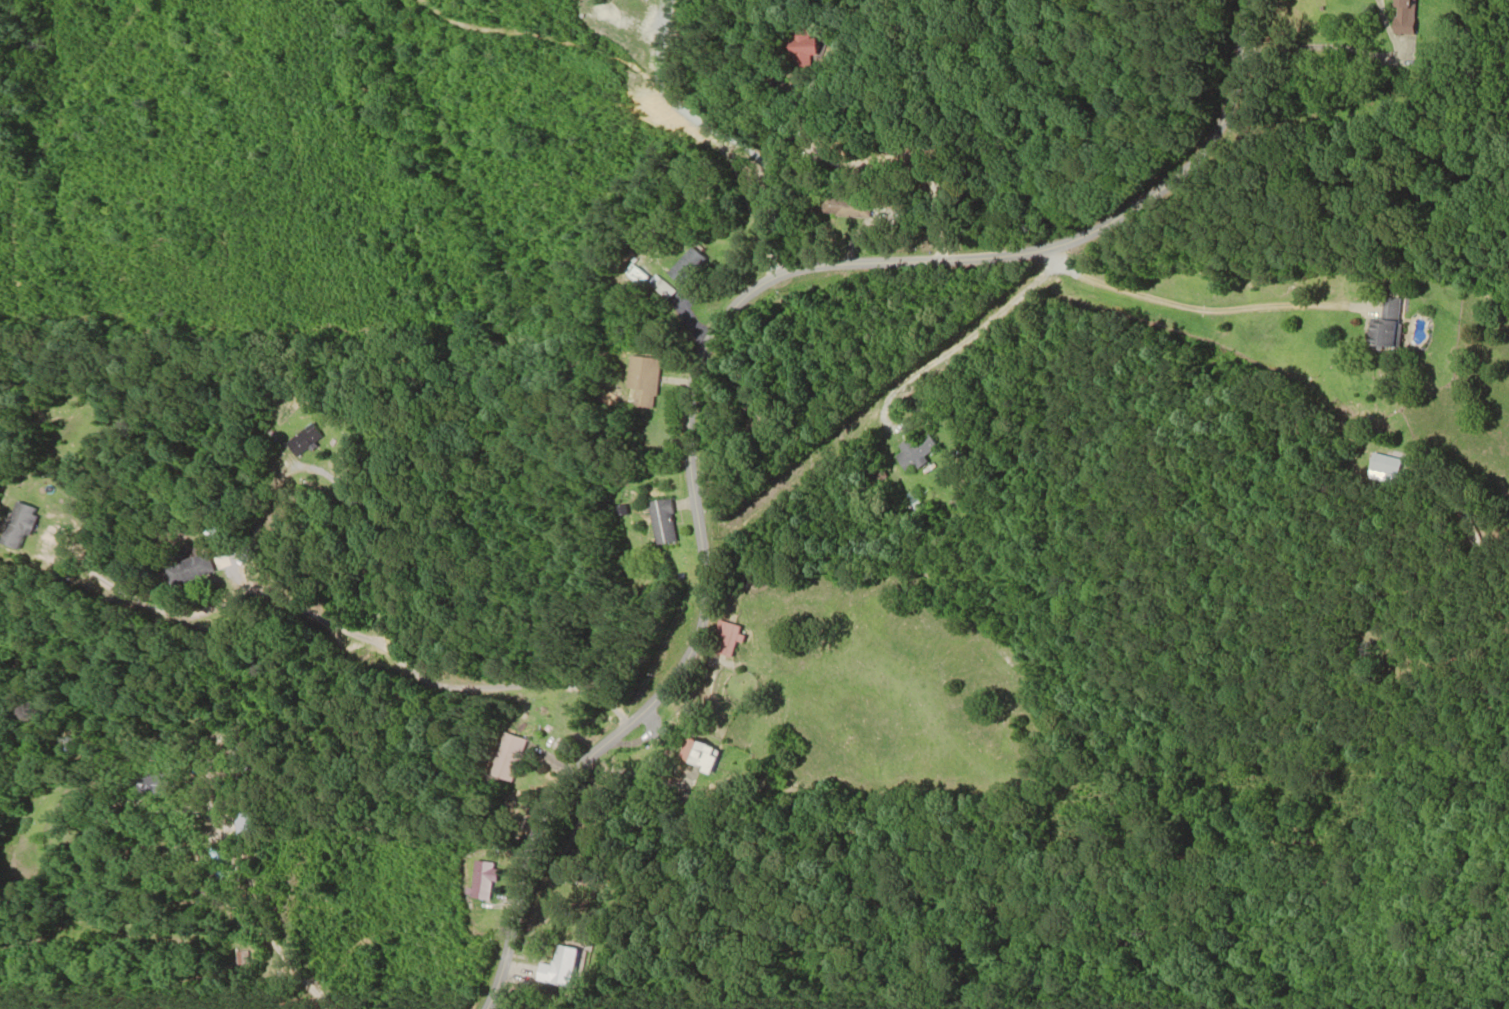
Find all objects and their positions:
building: (1414, 13)
building: (805, 46)
building: (691, 264)
building: (1395, 323)
road: (706, 337)
building: (646, 372)
building: (308, 438)
building: (925, 448)
building: (1388, 463)
building: (666, 520)
building: (32, 524)
building: (189, 568)
building: (736, 636)
building: (707, 752)
building: (521, 755)
building: (154, 784)
building: (246, 824)
building: (492, 879)
building: (571, 965)

